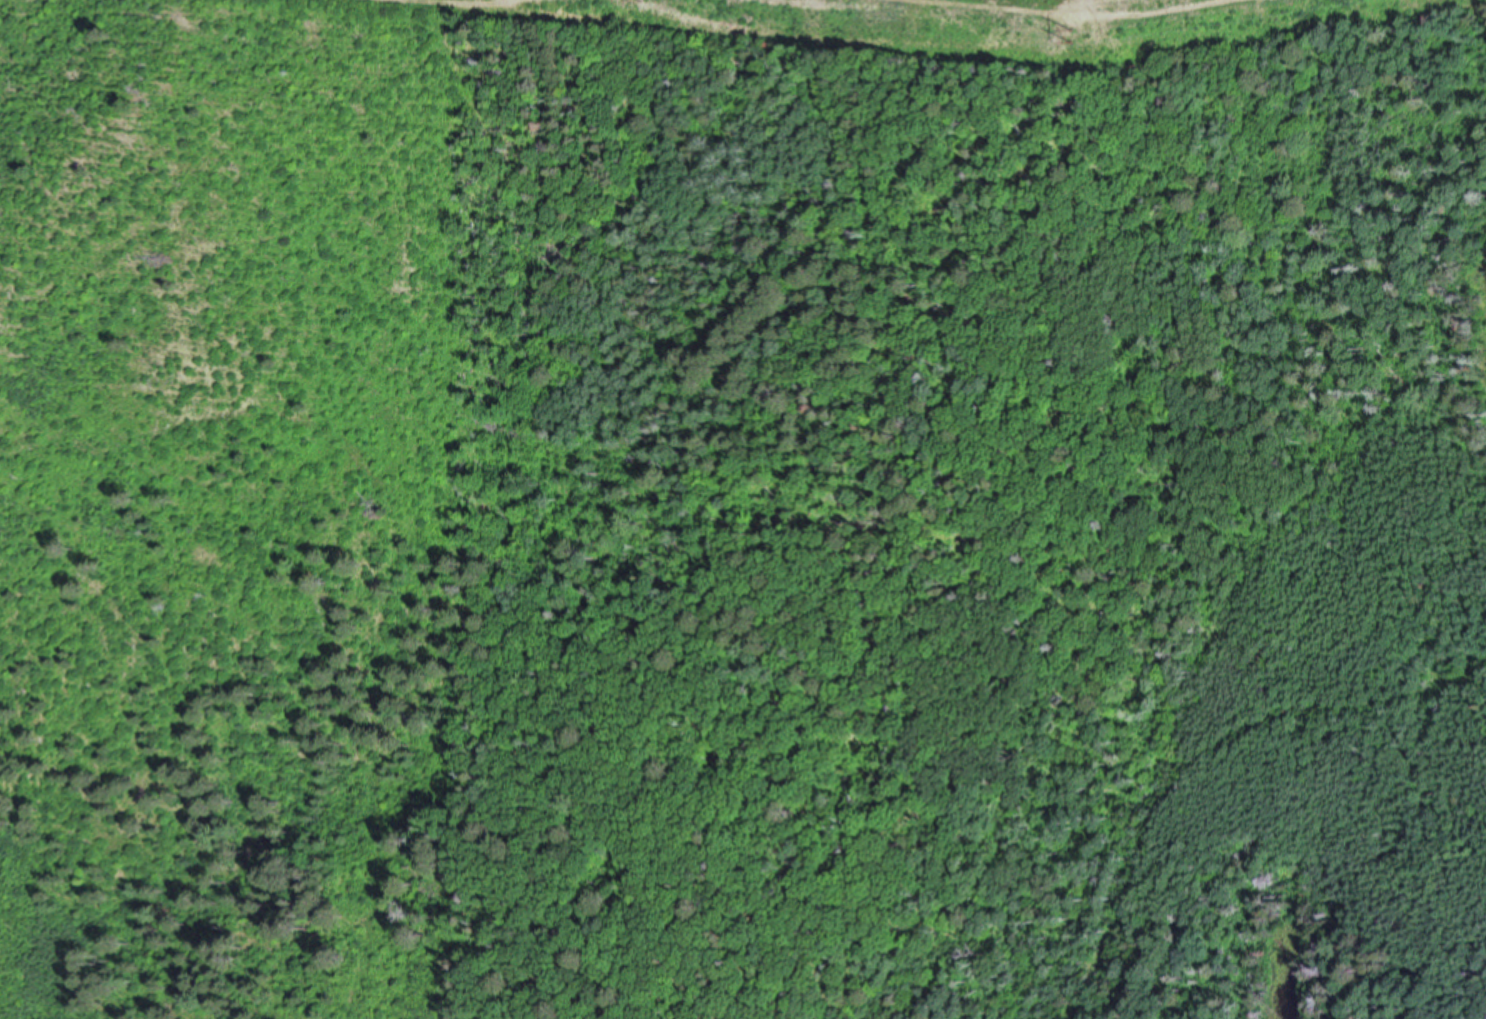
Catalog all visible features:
power tower: (1089, 36)

